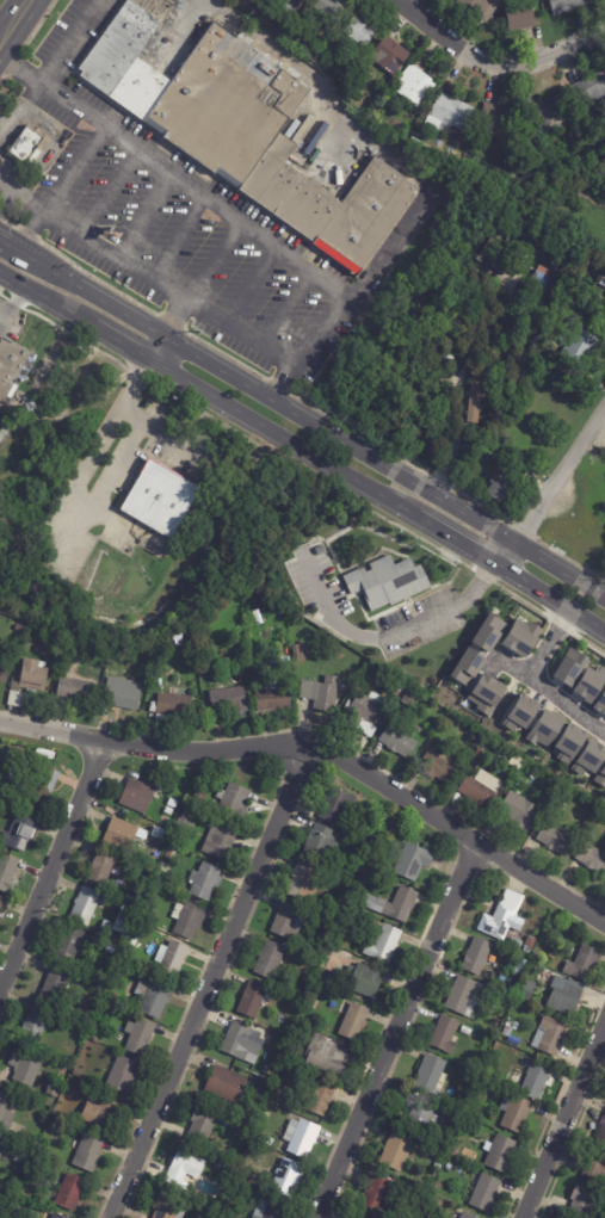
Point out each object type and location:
building: (290, 5)
building: (567, 5)
building: (332, 8)
building: (482, 8)
building: (521, 18)
road: (16, 21)
building: (362, 32)
road: (444, 36)
road: (64, 39)
road: (551, 54)
building: (390, 55)
road: (17, 68)
building: (415, 85)
building: (591, 91)
road: (17, 103)
building: (551, 113)
building: (450, 115)
building: (502, 118)
building: (242, 130)
road: (371, 140)
building: (29, 147)
road: (5, 185)
road: (57, 185)
road: (103, 191)
road: (140, 215)
road: (240, 224)
road: (175, 237)
road: (4, 239)
road: (111, 256)
road: (211, 261)
building: (542, 280)
building: (603, 282)
road: (247, 285)
road: (87, 289)
building: (572, 293)
building: (582, 297)
road: (11, 299)
road: (282, 308)
road: (70, 319)
road: (175, 320)
road: (237, 333)
building: (579, 342)
road: (158, 352)
road: (146, 364)
building: (12, 365)
building: (471, 397)
building: (2, 433)
road: (169, 438)
road: (387, 469)
road: (548, 490)
road: (72, 493)
building: (501, 493)
building: (159, 500)
road: (377, 501)
building: (389, 581)
building: (487, 632)
road: (381, 635)
building: (520, 637)
road: (547, 645)
building: (298, 653)
building: (137, 657)
building: (467, 666)
building: (568, 667)
building: (372, 669)
building: (5, 670)
building: (27, 680)
building: (588, 681)
building: (396, 687)
building: (75, 690)
road: (552, 692)
building: (322, 693)
building: (484, 694)
building: (123, 695)
building: (274, 697)
building: (409, 698)
building: (229, 699)
building: (600, 701)
building: (173, 706)
building: (364, 711)
building: (520, 713)
building: (450, 722)
building: (544, 729)
building: (400, 740)
building: (568, 741)
building: (481, 754)
building: (588, 756)
road: (322, 758)
building: (518, 761)
building: (439, 766)
building: (600, 775)
building: (37, 781)
building: (482, 787)
building: (138, 796)
building: (200, 796)
building: (234, 802)
building: (173, 803)
building: (338, 805)
building: (168, 810)
building: (520, 810)
building: (187, 816)
building: (19, 833)
building: (122, 834)
building: (158, 835)
building: (556, 839)
building: (221, 841)
building: (322, 841)
building: (365, 847)
building: (171, 855)
building: (593, 858)
building: (375, 861)
building: (414, 861)
road: (50, 864)
building: (104, 865)
building: (163, 867)
building: (7, 871)
building: (206, 880)
building: (304, 880)
building: (345, 901)
building: (1, 904)
building: (395, 904)
building: (87, 905)
building: (351, 916)
building: (505, 916)
building: (187, 919)
building: (289, 921)
building: (107, 930)
building: (385, 944)
building: (517, 944)
building: (69, 945)
building: (531, 945)
building: (320, 946)
building: (112, 950)
building: (479, 956)
building: (172, 958)
building: (271, 959)
building: (584, 963)
building: (519, 966)
building: (308, 977)
building: (329, 979)
building: (364, 979)
road: (206, 982)
building: (511, 982)
building: (55, 985)
building: (529, 990)
building: (566, 995)
building: (467, 996)
building: (154, 997)
building: (94, 1000)
building: (254, 1000)
building: (295, 1003)
building: (315, 1003)
building: (354, 1021)
building: (36, 1024)
road: (395, 1030)
building: (465, 1030)
building: (301, 1034)
building: (446, 1034)
building: (138, 1035)
building: (551, 1035)
building: (245, 1041)
building: (329, 1056)
building: (24, 1066)
building: (284, 1072)
building: (268, 1074)
building: (431, 1074)
building: (123, 1075)
building: (537, 1080)
building: (227, 1084)
building: (206, 1098)
building: (315, 1098)
building: (6, 1113)
building: (100, 1113)
building: (517, 1113)
building: (420, 1114)
building: (494, 1117)
road: (566, 1121)
building: (456, 1123)
building: (203, 1126)
building: (603, 1131)
building: (259, 1136)
building: (302, 1138)
building: (2, 1149)
building: (397, 1151)
building: (88, 1154)
building: (501, 1154)
building: (27, 1160)
building: (186, 1167)
building: (437, 1167)
building: (597, 1168)
building: (289, 1177)
building: (227, 1180)
building: (254, 1181)
building: (70, 1192)
building: (487, 1193)
building: (378, 1194)
building: (437, 1202)
building: (586, 1204)
building: (169, 1207)
building: (271, 1208)
building: (56, 1216)
building: (468, 1216)
building: (353, 1217)
building: (359, 1217)

